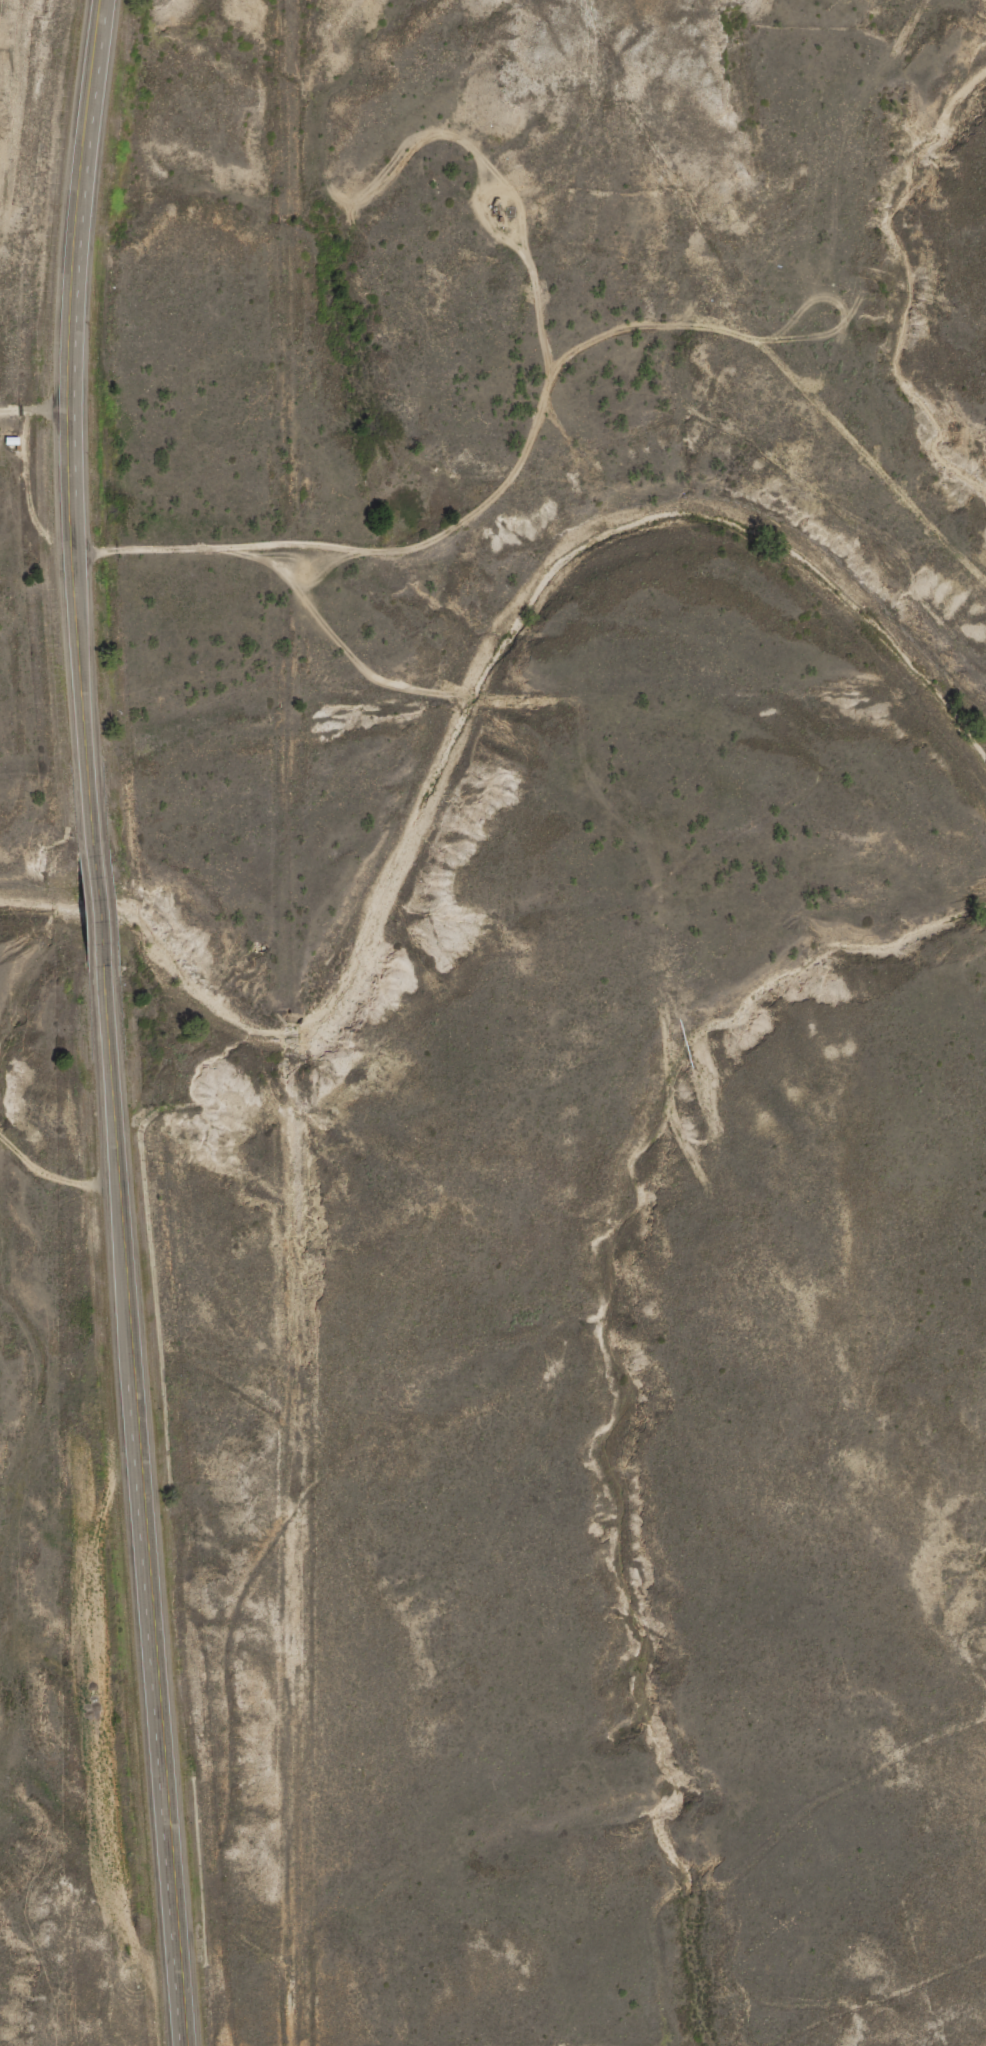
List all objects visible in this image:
road: (564, 388)
road: (70, 426)
river: (472, 718)
road: (99, 915)
road: (145, 1511)

